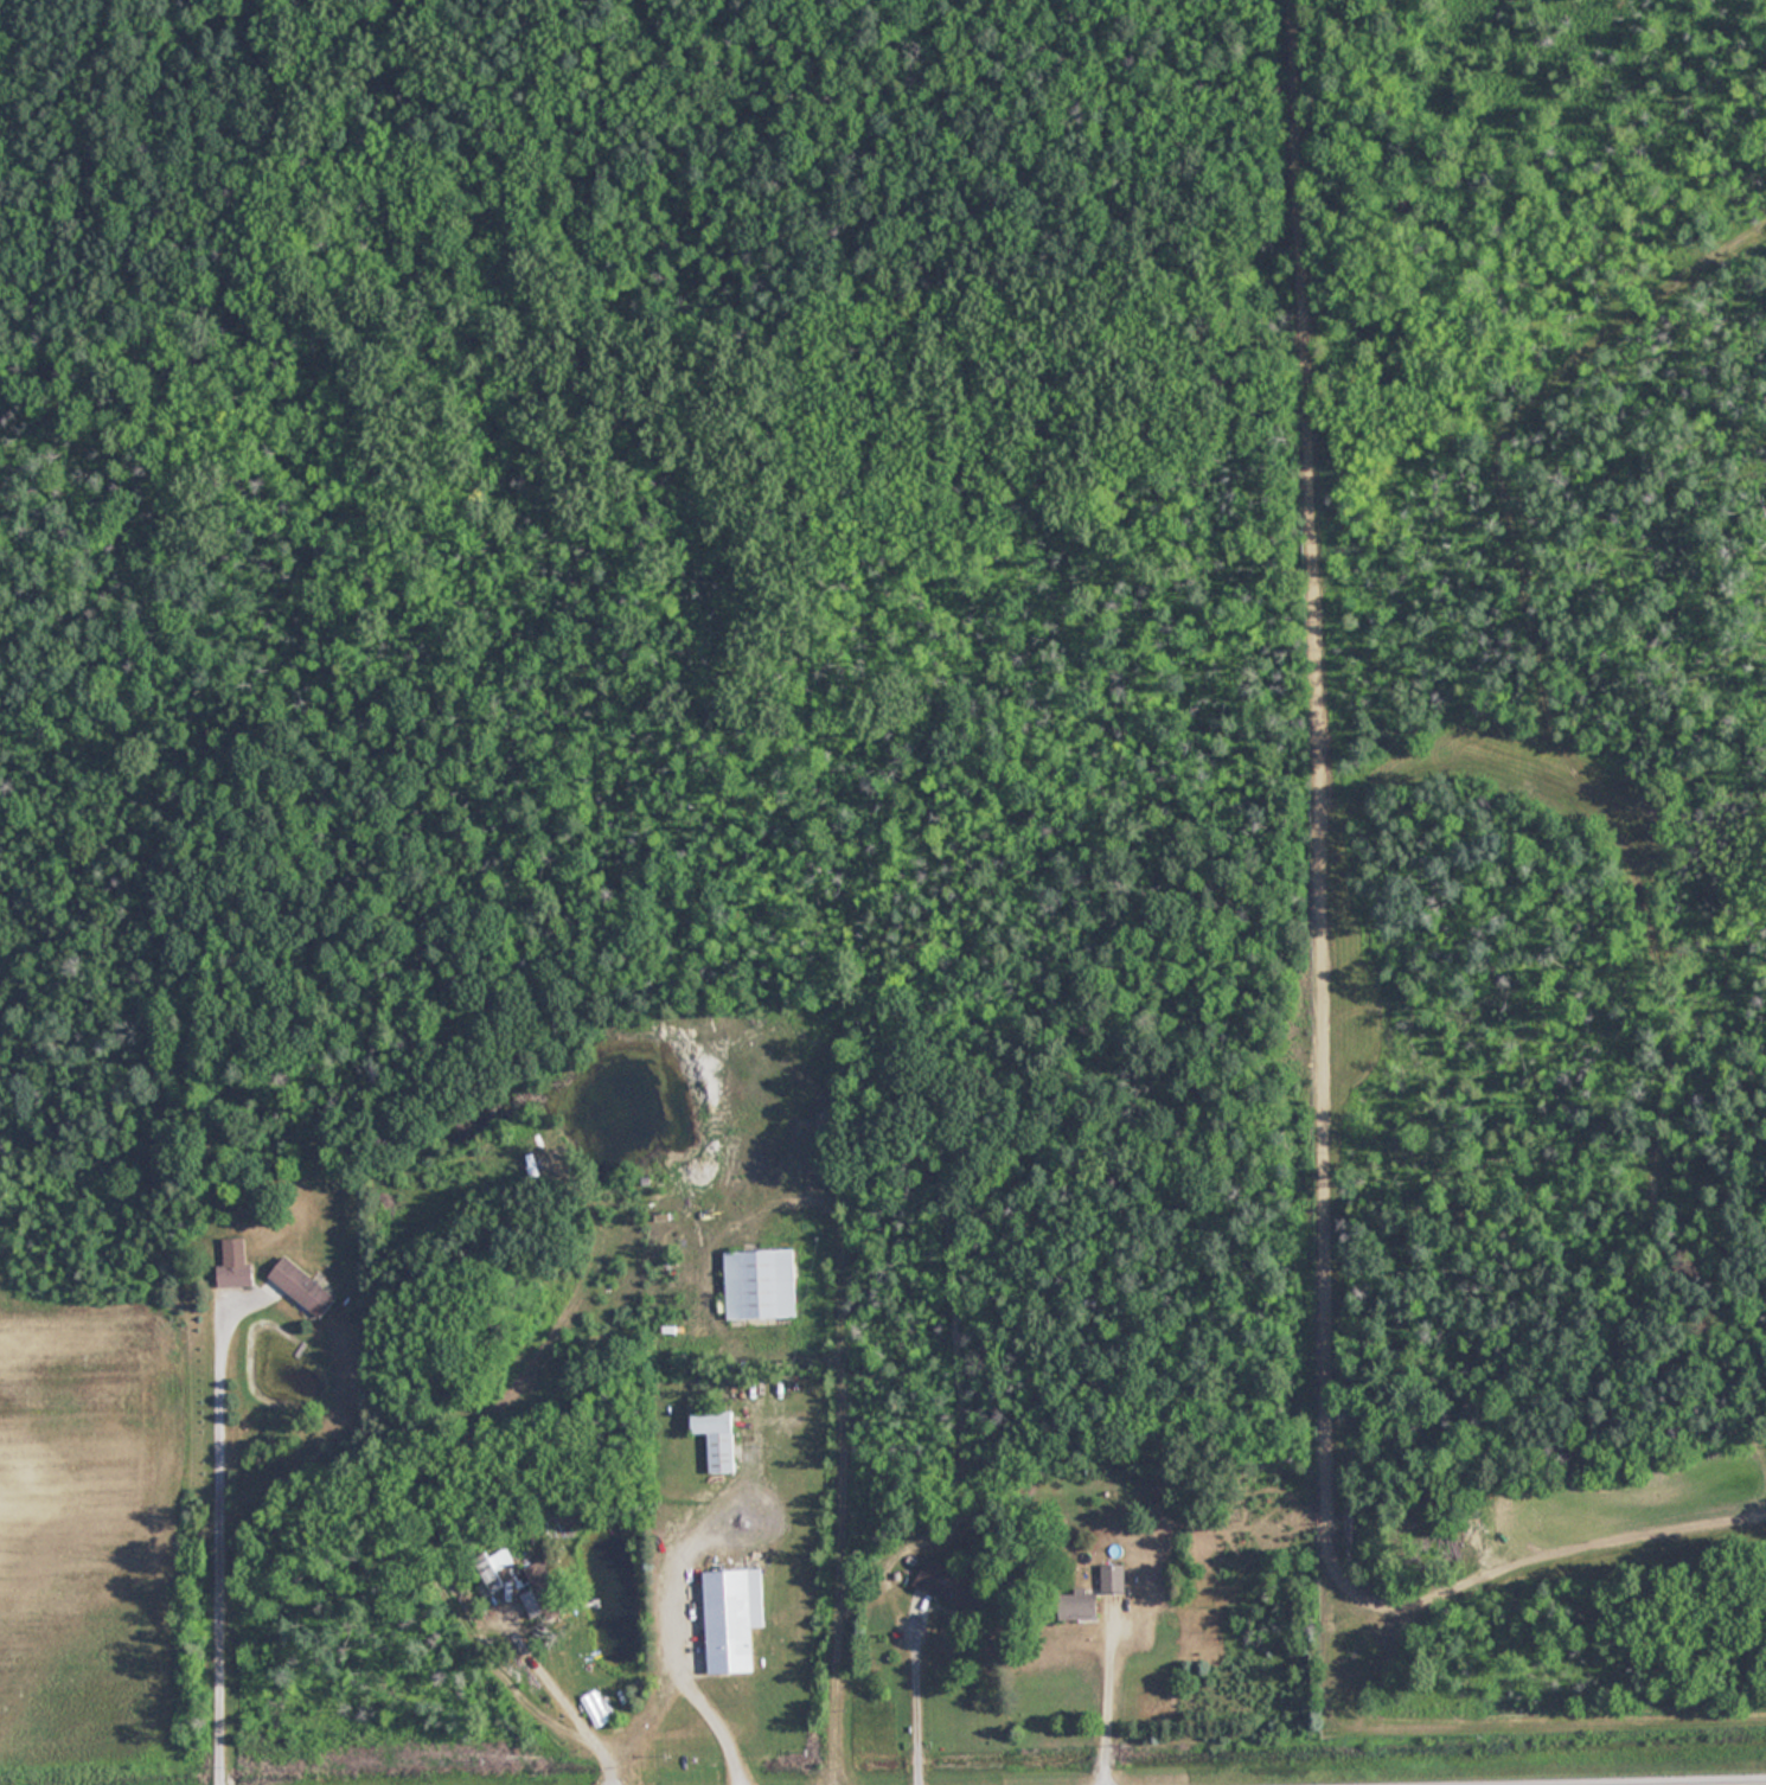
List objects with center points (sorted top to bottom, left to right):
park: (646, 352)
building: (235, 1265)
building: (761, 1282)
building: (302, 1286)
building: (717, 1438)
road: (761, 1499)
road: (211, 1536)
building: (490, 1572)
building: (1114, 1579)
building: (942, 1580)
building: (544, 1597)
building: (1086, 1605)
building: (734, 1618)
road: (674, 1668)
road: (1099, 1697)
road: (557, 1698)
road: (909, 1701)

